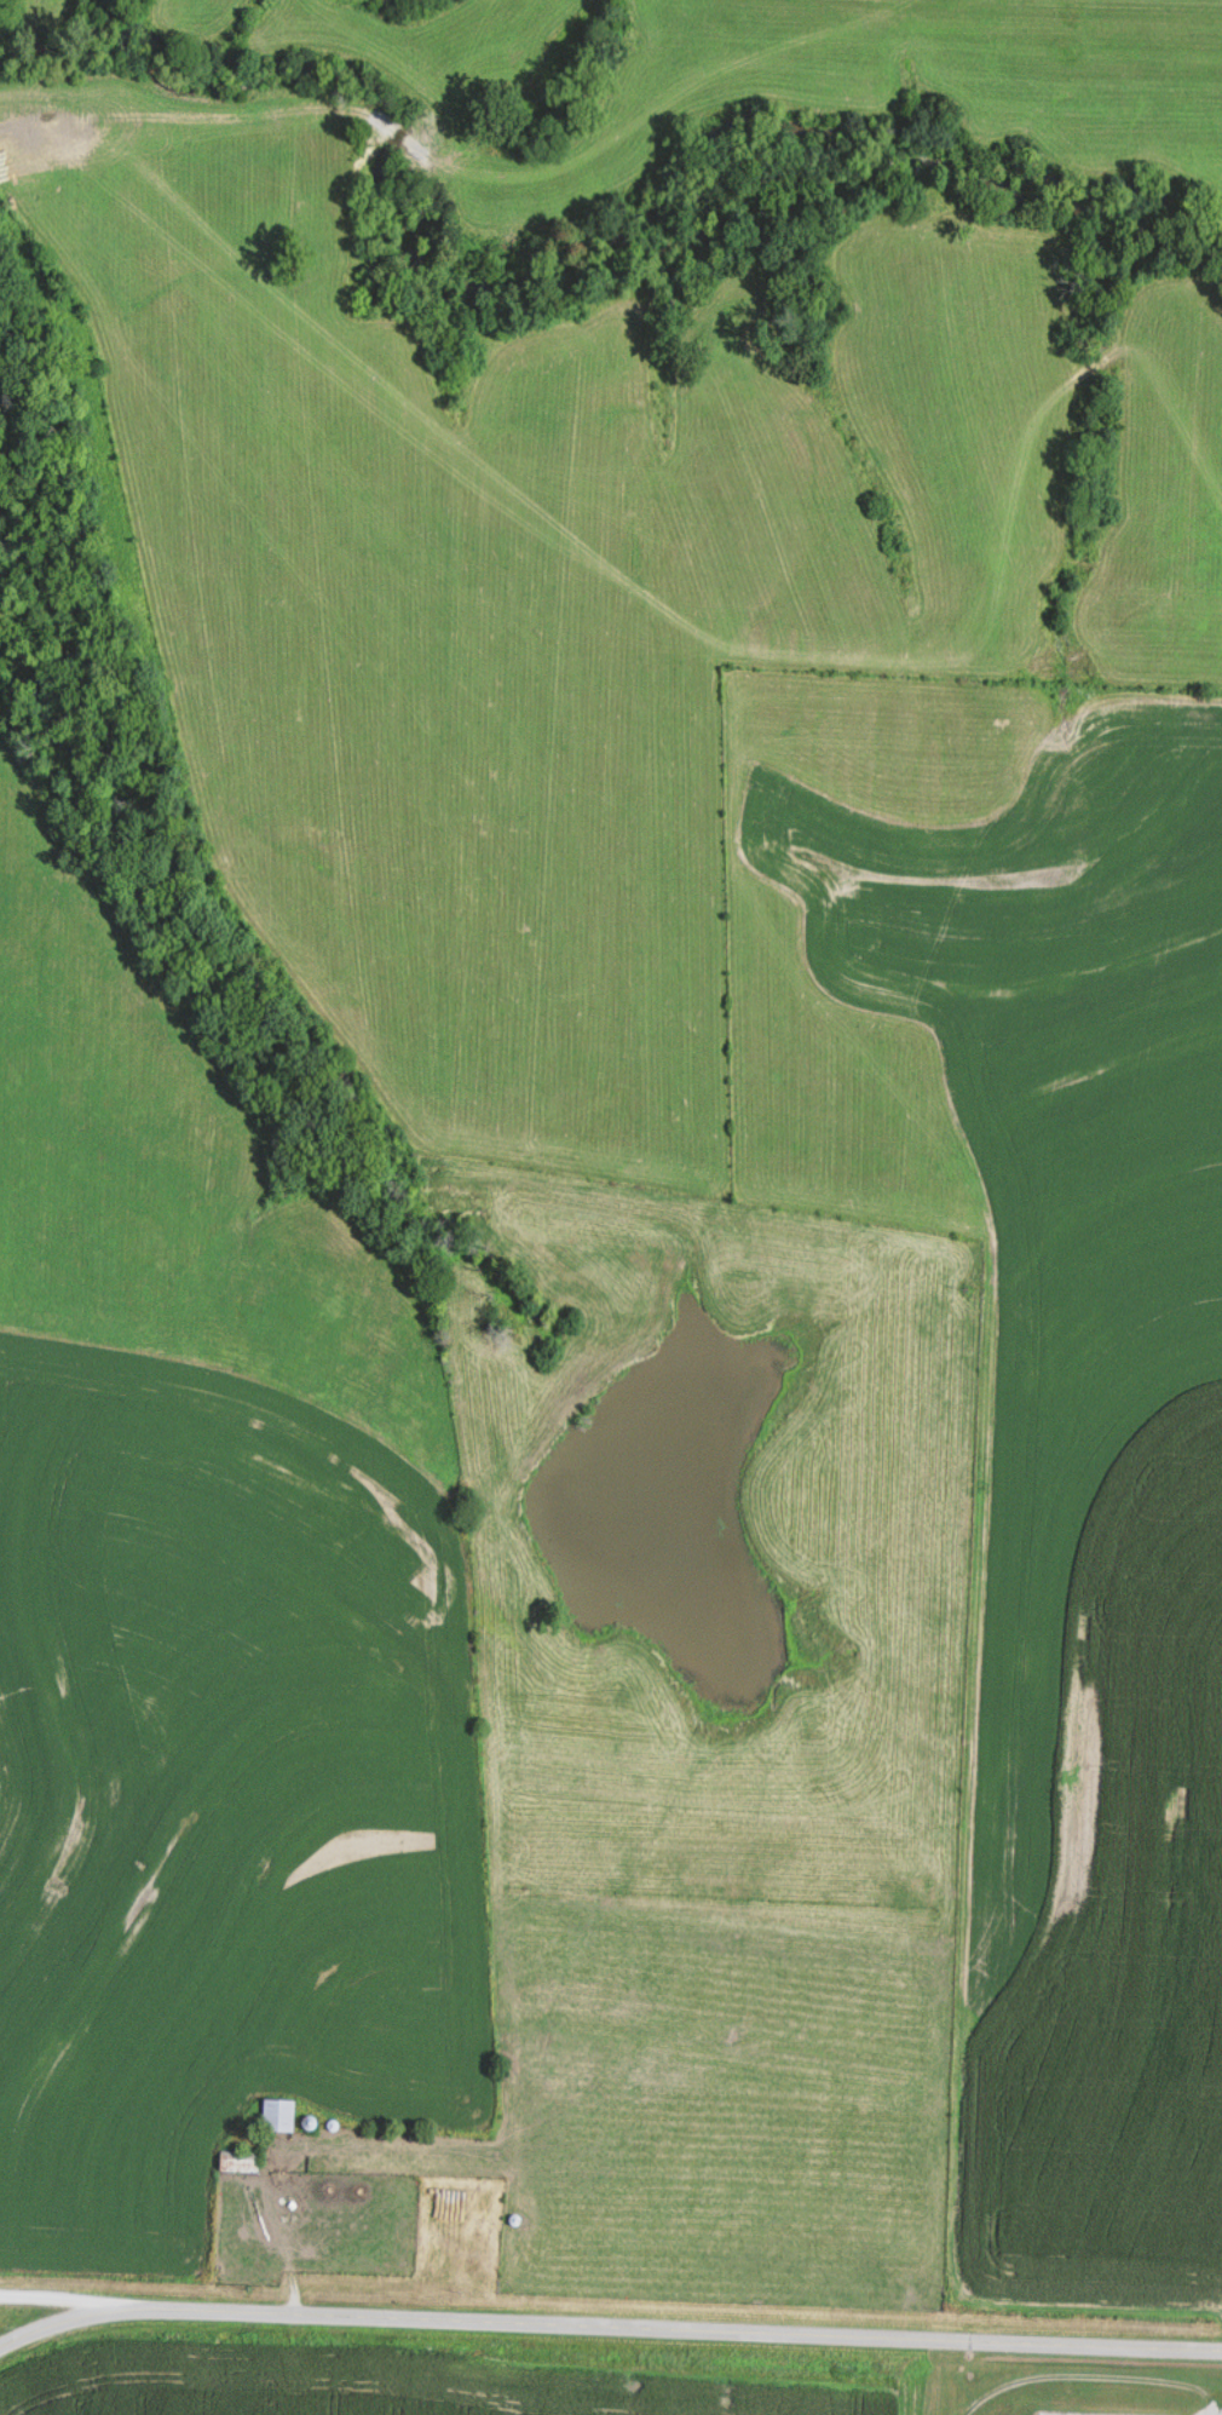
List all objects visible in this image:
building: (282, 2114)
building: (252, 2157)
road: (298, 2231)
road: (60, 2296)
road: (607, 2325)

